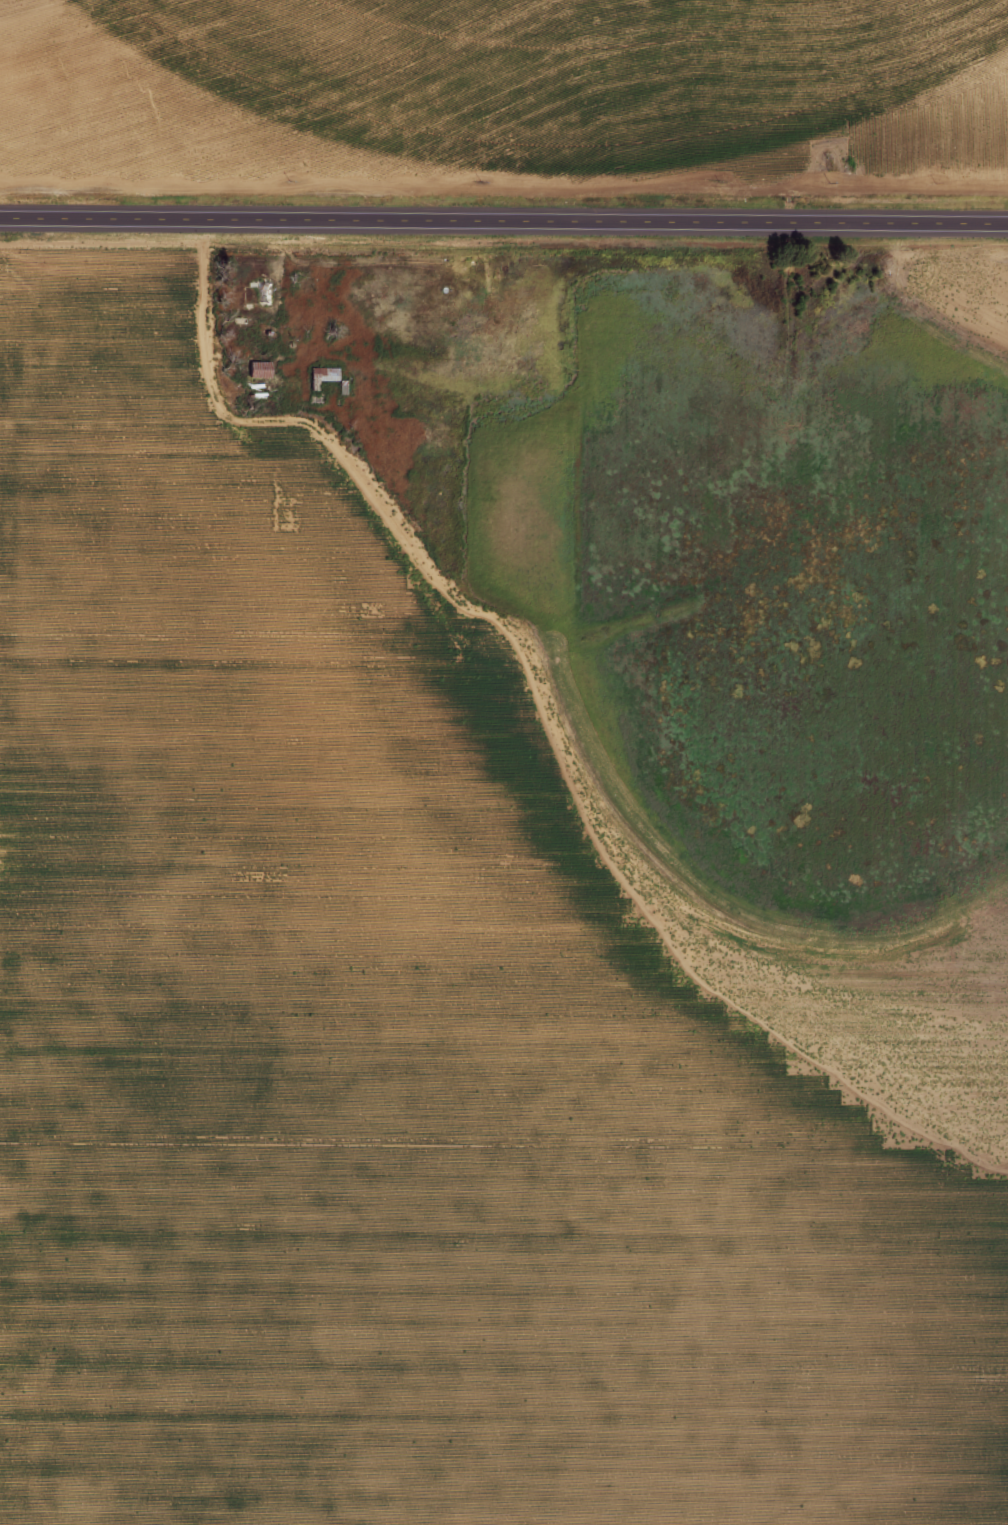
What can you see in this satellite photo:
road: (504, 233)

